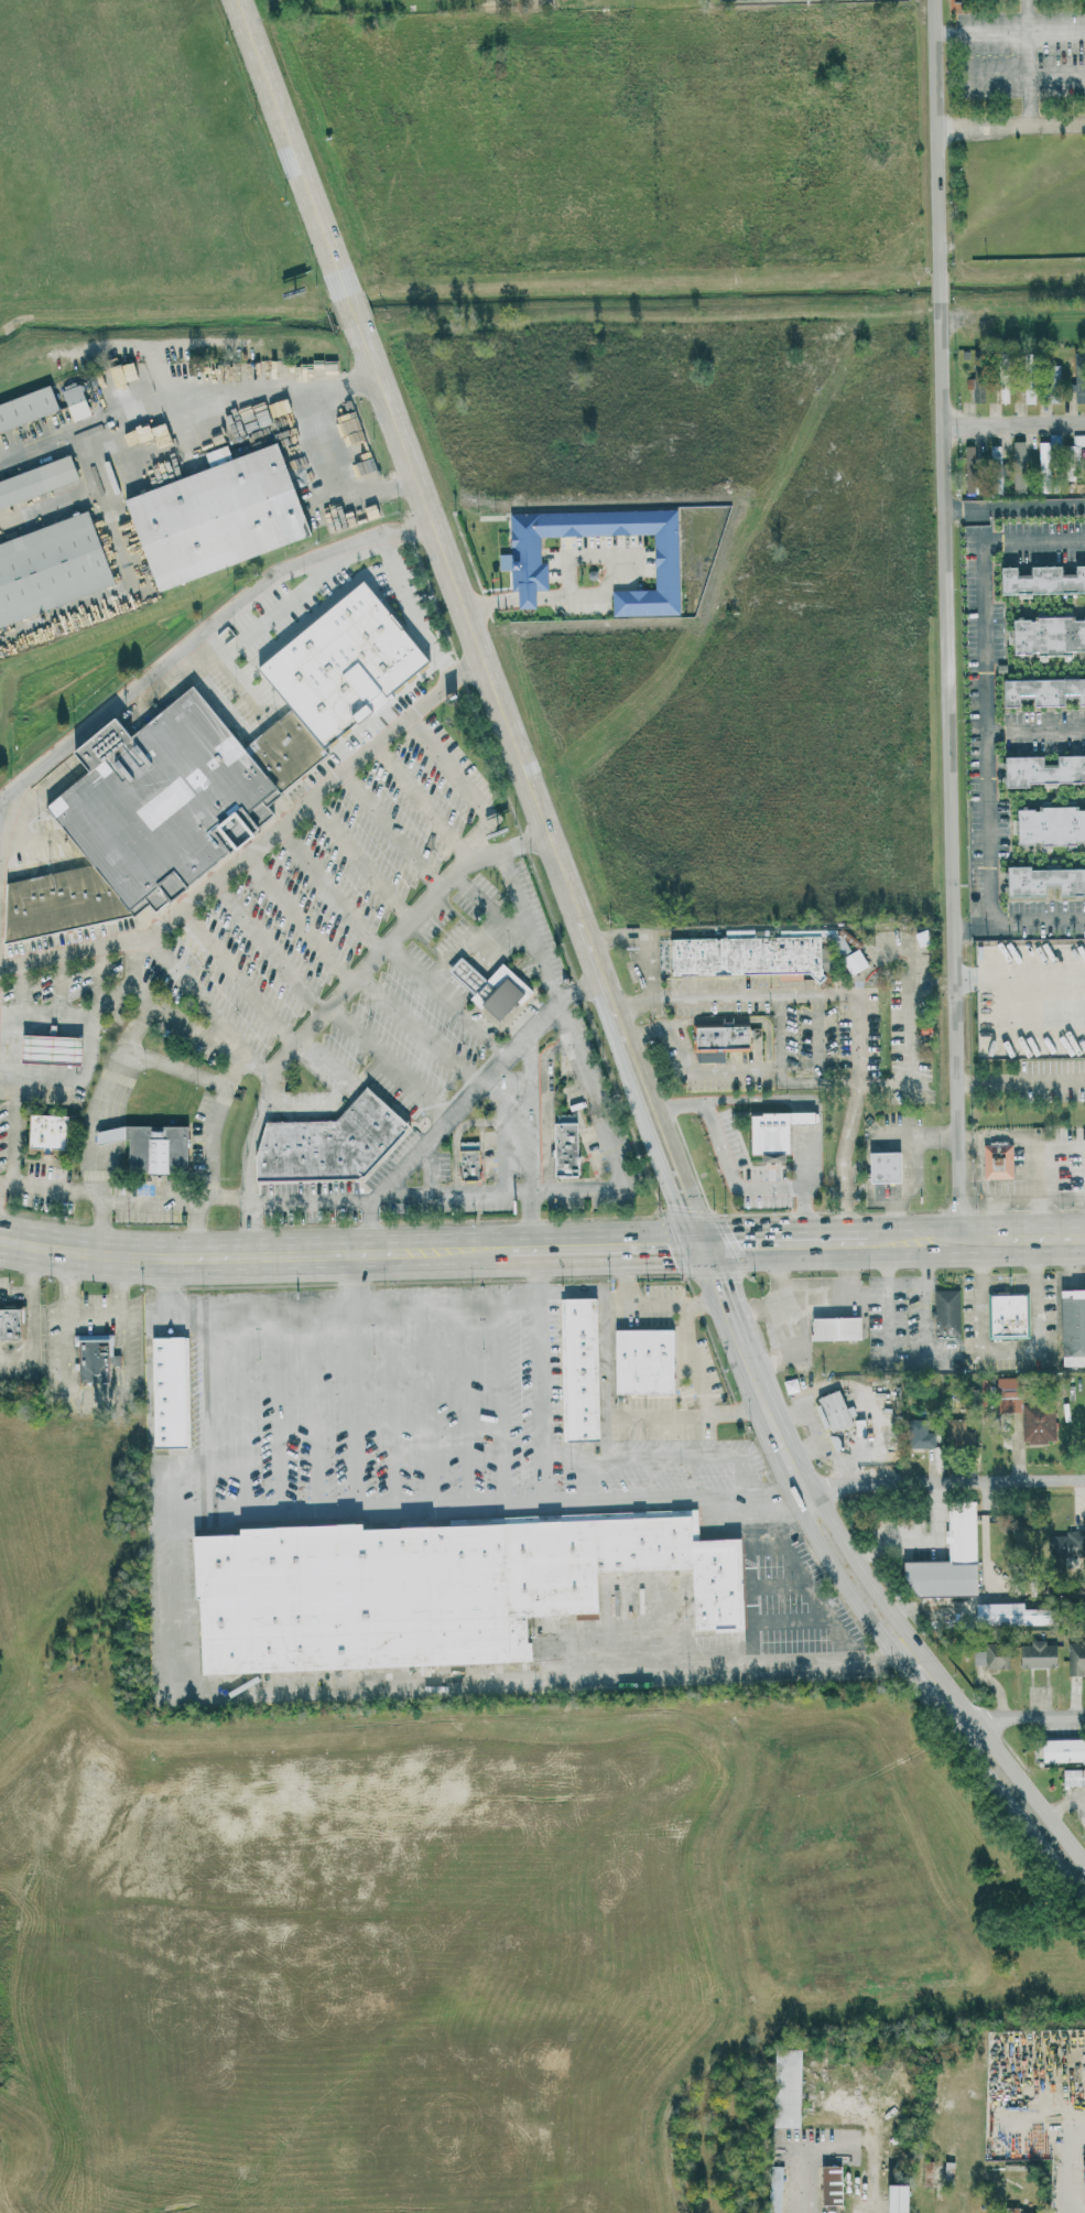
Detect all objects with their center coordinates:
road: (672, 6)
road: (1057, 33)
road: (983, 34)
road: (1031, 63)
road: (1059, 75)
road: (1009, 128)
building: (247, 369)
building: (121, 374)
building: (1051, 381)
road: (224, 384)
building: (1001, 391)
building: (1027, 391)
building: (1076, 391)
building: (72, 401)
building: (24, 406)
road: (1011, 421)
road: (39, 434)
road: (354, 441)
building: (214, 454)
building: (1072, 455)
building: (1017, 465)
building: (994, 468)
road: (147, 472)
building: (34, 481)
road: (325, 487)
road: (1013, 508)
building: (210, 516)
road: (1037, 541)
road: (614, 550)
building: (519, 561)
building: (47, 568)
road: (141, 576)
building: (1040, 579)
road: (528, 597)
road: (490, 601)
road: (411, 611)
road: (945, 620)
road: (467, 623)
road: (200, 634)
building: (1045, 635)
building: (1041, 690)
road: (1037, 732)
road: (989, 735)
building: (1042, 768)
building: (199, 771)
road: (464, 781)
road: (424, 802)
building: (1048, 824)
road: (395, 831)
road: (256, 846)
road: (361, 862)
building: (1042, 881)
road: (332, 890)
road: (301, 919)
road: (530, 921)
road: (413, 922)
road: (1038, 927)
road: (970, 928)
road: (269, 950)
road: (239, 978)
road: (1019, 982)
building: (484, 986)
road: (733, 994)
road: (144, 997)
road: (912, 997)
road: (448, 1001)
road: (208, 1006)
road: (45, 1012)
road: (187, 1025)
road: (420, 1030)
road: (358, 1033)
building: (716, 1037)
road: (858, 1037)
building: (44, 1048)
road: (690, 1062)
road: (237, 1071)
road: (367, 1073)
road: (53, 1078)
road: (820, 1079)
road: (1021, 1086)
road: (349, 1091)
road: (523, 1120)
road: (440, 1126)
building: (775, 1129)
building: (43, 1131)
building: (323, 1143)
building: (566, 1145)
building: (145, 1147)
road: (1040, 1149)
building: (469, 1159)
road: (844, 1161)
building: (994, 1161)
building: (879, 1167)
road: (907, 1167)
road: (97, 1169)
road: (733, 1175)
road: (250, 1178)
road: (50, 1185)
road: (597, 1189)
road: (1017, 1196)
road: (229, 1198)
road: (1040, 1218)
road: (369, 1224)
road: (196, 1233)
road: (975, 1241)
road: (783, 1244)
traffic signals: (702, 1246)
road: (604, 1248)
road: (83, 1250)
road: (350, 1253)
road: (181, 1256)
road: (355, 1278)
road: (926, 1287)
road: (720, 1293)
road: (370, 1303)
road: (679, 1310)
building: (943, 1313)
road: (98, 1315)
building: (828, 1319)
building: (1071, 1323)
building: (7, 1325)
road: (44, 1327)
road: (890, 1328)
road: (540, 1347)
road: (1009, 1351)
building: (642, 1359)
building: (579, 1368)
road: (203, 1369)
building: (167, 1390)
road: (503, 1402)
road: (466, 1403)
road: (430, 1404)
road: (393, 1405)
road: (355, 1406)
road: (314, 1407)
road: (279, 1408)
road: (242, 1410)
building: (831, 1411)
road: (768, 1412)
road: (663, 1414)
building: (1027, 1414)
building: (921, 1434)
building: (957, 1434)
road: (745, 1476)
road: (943, 1481)
road: (755, 1496)
road: (538, 1505)
building: (1074, 1539)
road: (918, 1541)
building: (945, 1559)
building: (425, 1585)
building: (1003, 1615)
road: (597, 1632)
building: (1035, 1654)
building: (989, 1656)
building: (1075, 1658)
road: (788, 1659)
road: (940, 1673)
road: (267, 1693)
road: (926, 1701)
road: (1017, 1715)
building: (1061, 1749)
building: (1072, 1775)
road: (847, 2055)
building: (788, 2111)
road: (855, 2112)
road: (1063, 2168)
building: (1084, 2179)
building: (832, 2184)
building: (774, 2189)
building: (899, 2198)

